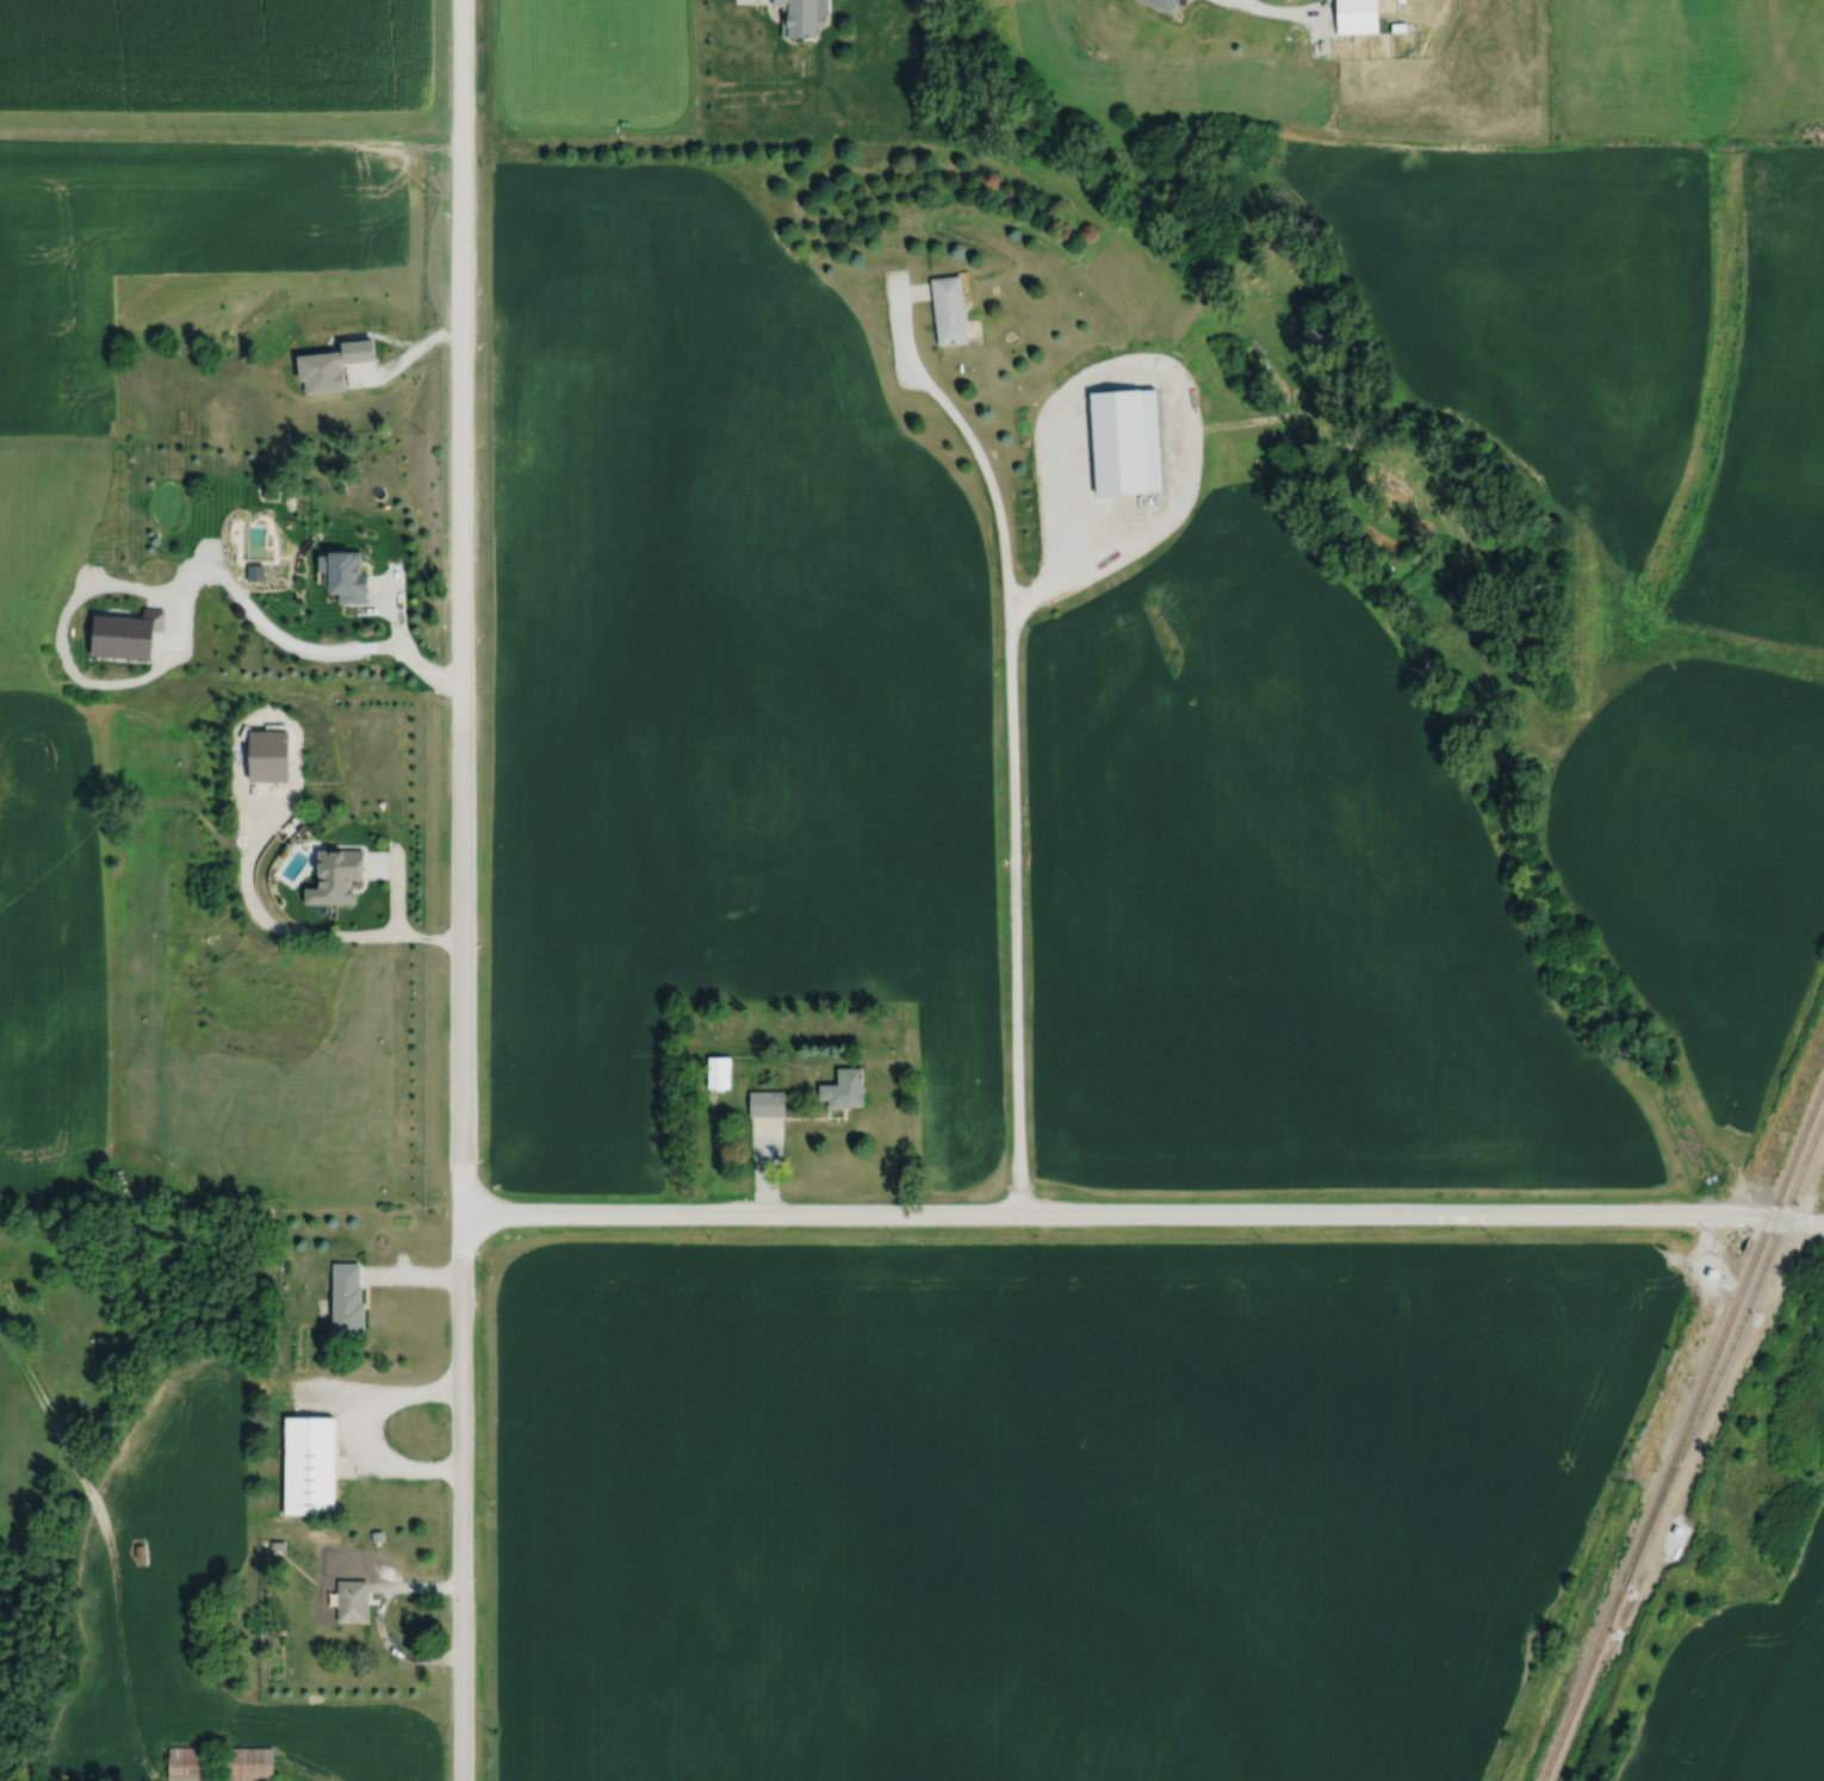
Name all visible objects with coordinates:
building: (1155, 5)
building: (807, 17)
road: (1276, 17)
building: (1351, 17)
building: (943, 309)
road: (405, 354)
road: (1178, 383)
building: (1112, 440)
building: (353, 577)
road: (179, 610)
road: (1012, 733)
road: (395, 747)
road: (455, 889)
road: (294, 932)
building: (714, 1071)
building: (838, 1088)
building: (759, 1103)
road: (1139, 1220)
building: (352, 1296)
railway: (1727, 1348)
railway: (1681, 1429)
road: (362, 1432)
building: (314, 1464)
building: (355, 1601)
road: (380, 1626)
building: (192, 1763)
building: (246, 1764)

